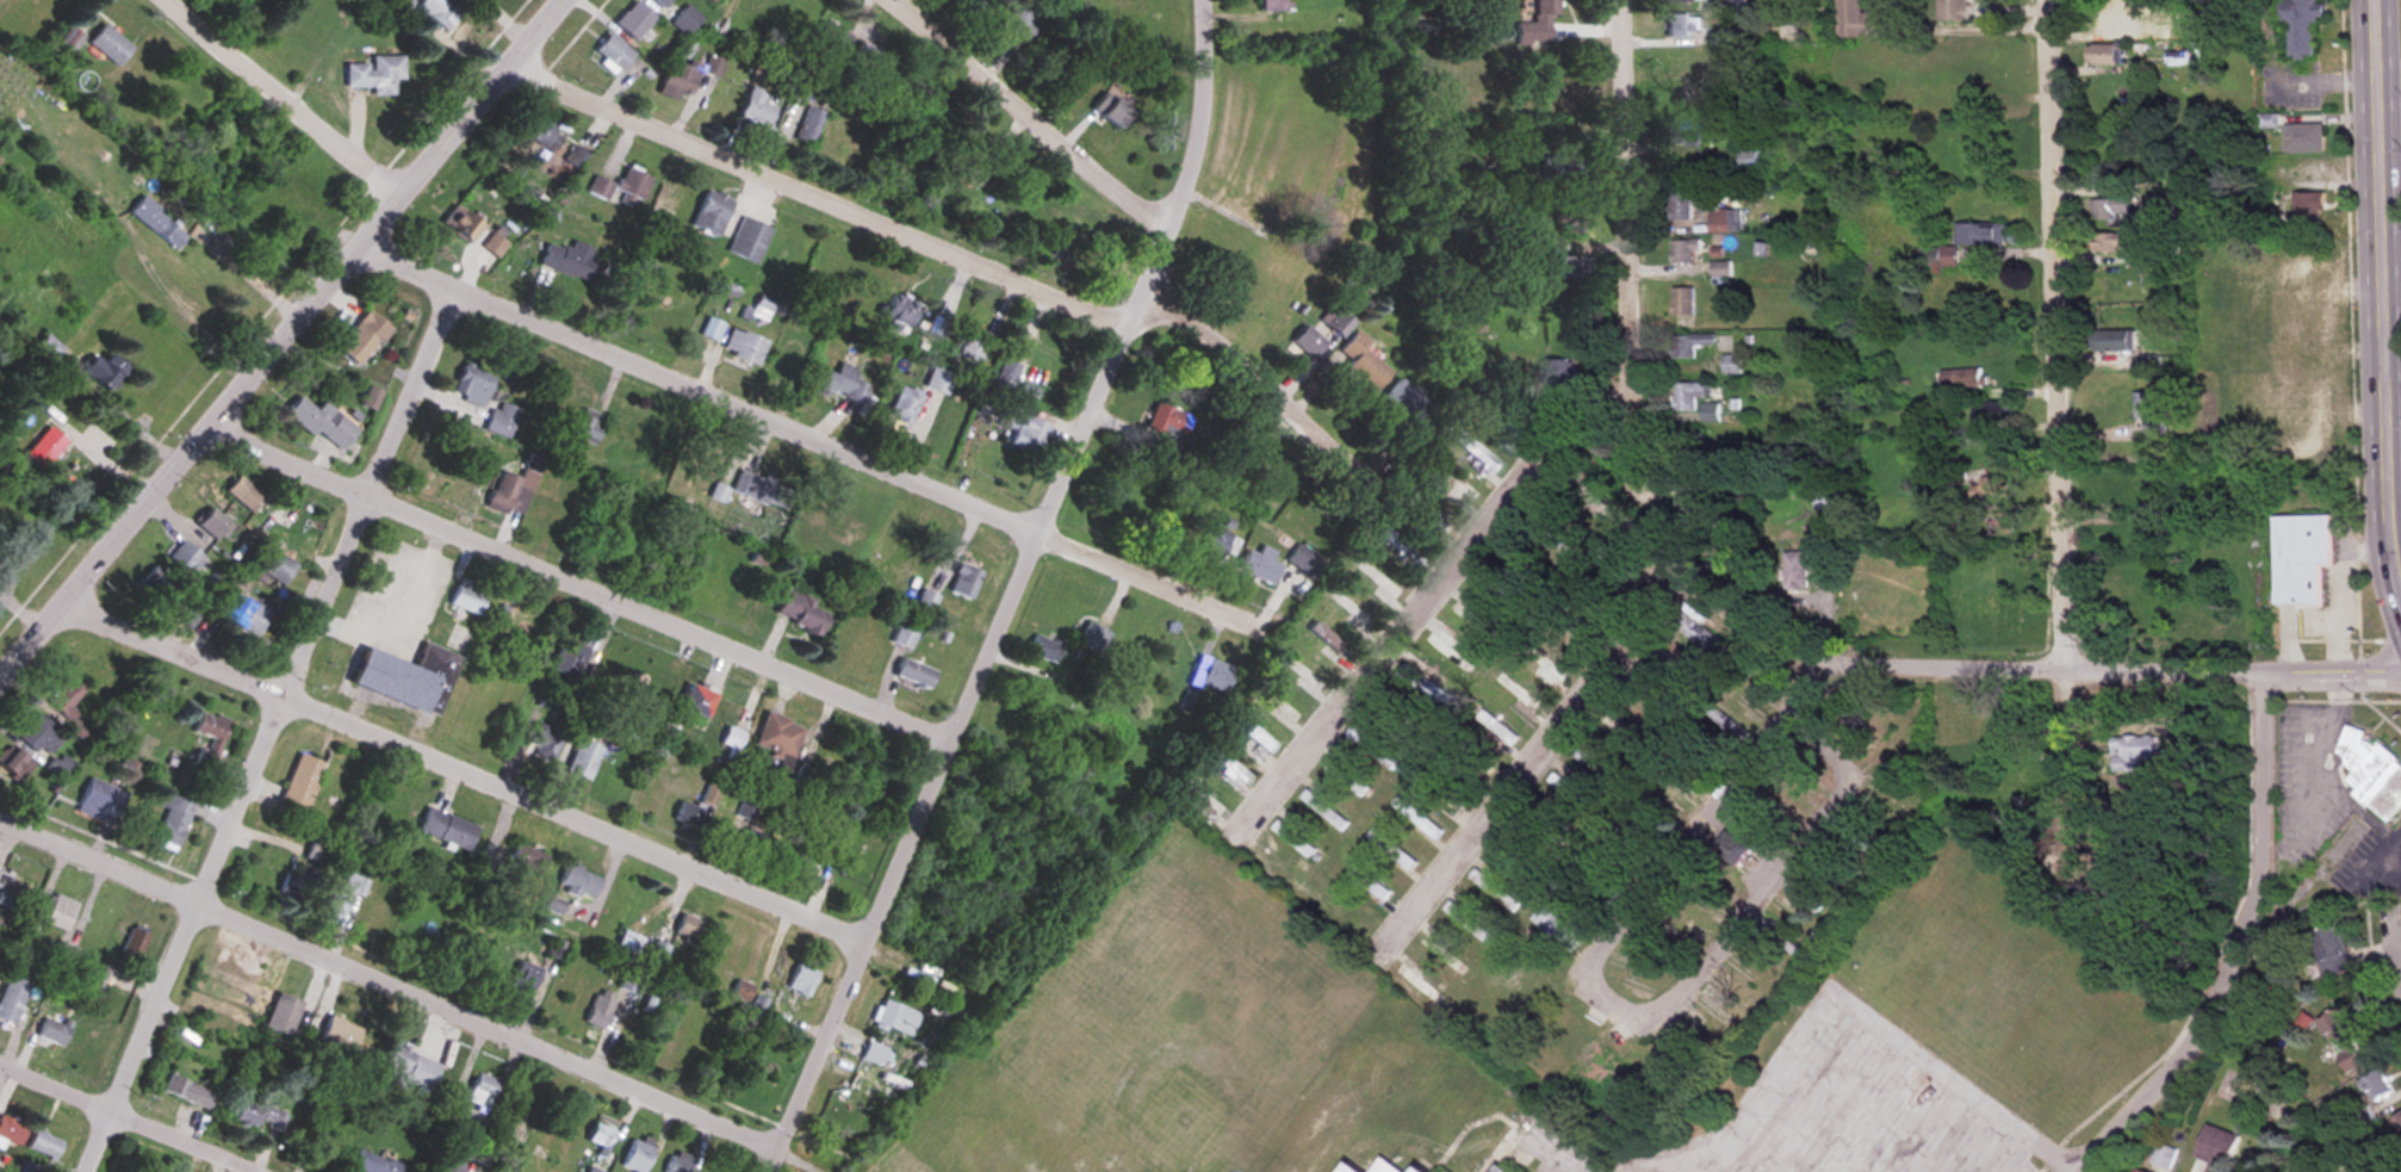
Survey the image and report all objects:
building: (968, 0)
building: (992, 0)
building: (1677, 1)
building: (658, 2)
building: (1272, 5)
building: (1953, 10)
building: (439, 11)
building: (2120, 14)
building: (684, 19)
building: (632, 20)
building: (1018, 20)
building: (1857, 20)
building: (1537, 24)
building: (1681, 24)
building: (2302, 24)
building: (694, 37)
building: (831, 38)
building: (72, 39)
building: (110, 44)
building: (610, 54)
building: (866, 54)
building: (2109, 54)
building: (376, 74)
building: (684, 77)
building: (1975, 86)
road: (284, 97)
building: (755, 106)
road: (1036, 112)
building: (1110, 112)
building: (808, 124)
building: (1683, 132)
building: (544, 137)
building: (2304, 138)
building: (1748, 160)
building: (1960, 160)
building: (958, 163)
building: (1518, 181)
building: (621, 187)
road: (821, 193)
building: (1681, 206)
building: (2111, 207)
building: (2307, 210)
building: (709, 212)
building: (157, 222)
building: (1724, 222)
building: (461, 225)
building: (650, 232)
building: (1980, 234)
building: (747, 240)
building: (2111, 242)
road: (1628, 244)
building: (1685, 252)
building: (1937, 256)
building: (567, 260)
building: (1727, 271)
road: (247, 277)
building: (1240, 279)
road: (2387, 289)
building: (1682, 303)
building: (196, 306)
building: (895, 312)
building: (1340, 328)
building: (712, 329)
road: (2062, 336)
building: (361, 337)
road: (279, 339)
building: (2114, 340)
building: (1304, 343)
building: (973, 345)
building: (1689, 345)
building: (743, 346)
building: (798, 355)
road: (2395, 361)
building: (1360, 362)
building: (1732, 365)
building: (108, 371)
building: (1562, 371)
building: (1005, 376)
building: (1962, 378)
building: (840, 384)
building: (471, 385)
road: (1258, 386)
building: (1688, 396)
building: (904, 405)
building: (1406, 405)
building: (1710, 413)
building: (1993, 413)
building: (2151, 414)
building: (2276, 416)
building: (501, 418)
building: (322, 422)
building: (1168, 422)
building: (585, 426)
building: (1020, 427)
building: (1504, 434)
road: (819, 436)
building: (1693, 442)
building: (49, 447)
building: (1476, 453)
building: (1443, 471)
building: (573, 480)
building: (1996, 486)
building: (515, 488)
building: (1465, 489)
building: (763, 490)
building: (243, 492)
building: (1826, 500)
building: (539, 508)
building: (1693, 510)
road: (2396, 514)
building: (1427, 517)
building: (2000, 523)
building: (818, 531)
building: (851, 532)
building: (1218, 544)
road: (2399, 551)
building: (186, 558)
building: (1301, 559)
building: (2302, 559)
building: (1258, 564)
building: (277, 566)
building: (1795, 571)
building: (963, 582)
road: (584, 584)
building: (160, 587)
road: (1022, 591)
building: (467, 600)
building: (925, 603)
building: (799, 612)
building: (244, 614)
building: (1699, 633)
building: (905, 637)
building: (1092, 637)
building: (1328, 643)
road: (1384, 645)
building: (1044, 649)
building: (570, 656)
building: (1544, 666)
building: (1670, 666)
road: (1936, 669)
building: (1302, 671)
building: (914, 674)
building: (1215, 676)
building: (405, 678)
building: (1419, 682)
building: (652, 688)
building: (70, 697)
building: (691, 703)
building: (651, 717)
building: (1958, 724)
building: (1497, 727)
road: (280, 731)
building: (1249, 733)
building: (1620, 733)
building: (43, 736)
building: (777, 736)
building: (210, 737)
building: (731, 737)
building: (1869, 742)
building: (542, 744)
building: (2132, 752)
building: (582, 759)
road: (2313, 759)
road: (1532, 763)
building: (1593, 764)
building: (20, 765)
building: (1227, 765)
building: (1897, 765)
building: (60, 768)
building: (1694, 768)
building: (2371, 770)
road: (470, 775)
road: (2262, 776)
building: (1347, 779)
building: (302, 781)
building: (1445, 787)
building: (1570, 792)
building: (1887, 792)
building: (104, 801)
building: (695, 807)
building: (746, 808)
building: (1323, 811)
building: (1421, 820)
building: (173, 821)
building: (445, 829)
building: (1546, 832)
building: (1850, 833)
building: (1620, 837)
building: (1295, 839)
building: (758, 845)
building: (1515, 850)
building: (1732, 850)
building: (318, 851)
building: (523, 862)
building: (801, 862)
building: (6, 881)
building: (577, 882)
building: (1369, 882)
building: (298, 883)
building: (1599, 885)
building: (1494, 892)
building: (1803, 898)
building: (334, 904)
building: (552, 905)
building: (62, 912)
building: (1469, 923)
building: (687, 928)
building: (1556, 929)
building: (135, 941)
building: (627, 945)
road: (2394, 951)
building: (68, 954)
building: (1438, 954)
building: (1758, 955)
building: (2329, 955)
building: (523, 976)
building: (800, 980)
building: (628, 982)
building: (1416, 984)
road: (391, 987)
building: (739, 991)
building: (14, 999)
building: (647, 1005)
building: (598, 1011)
building: (283, 1016)
road: (1614, 1016)
building: (1717, 1017)
building: (894, 1018)
building: (56, 1030)
building: (339, 1033)
building: (683, 1033)
road: (2195, 1037)
building: (2341, 1042)
building: (1674, 1046)
building: (873, 1054)
building: (402, 1068)
building: (2375, 1086)
building: (188, 1092)
building: (480, 1092)
building: (259, 1116)
road: (126, 1117)
building: (2396, 1126)
building: (12, 1131)
building: (598, 1136)
building: (48, 1145)
building: (2216, 1148)
building: (637, 1155)
building: (2163, 1157)
building: (371, 1162)
building: (677, 1162)
building: (30, 1167)
building: (1359, 1167)
building: (1496, 1168)
building: (590, 1170)
building: (2138, 1171)

